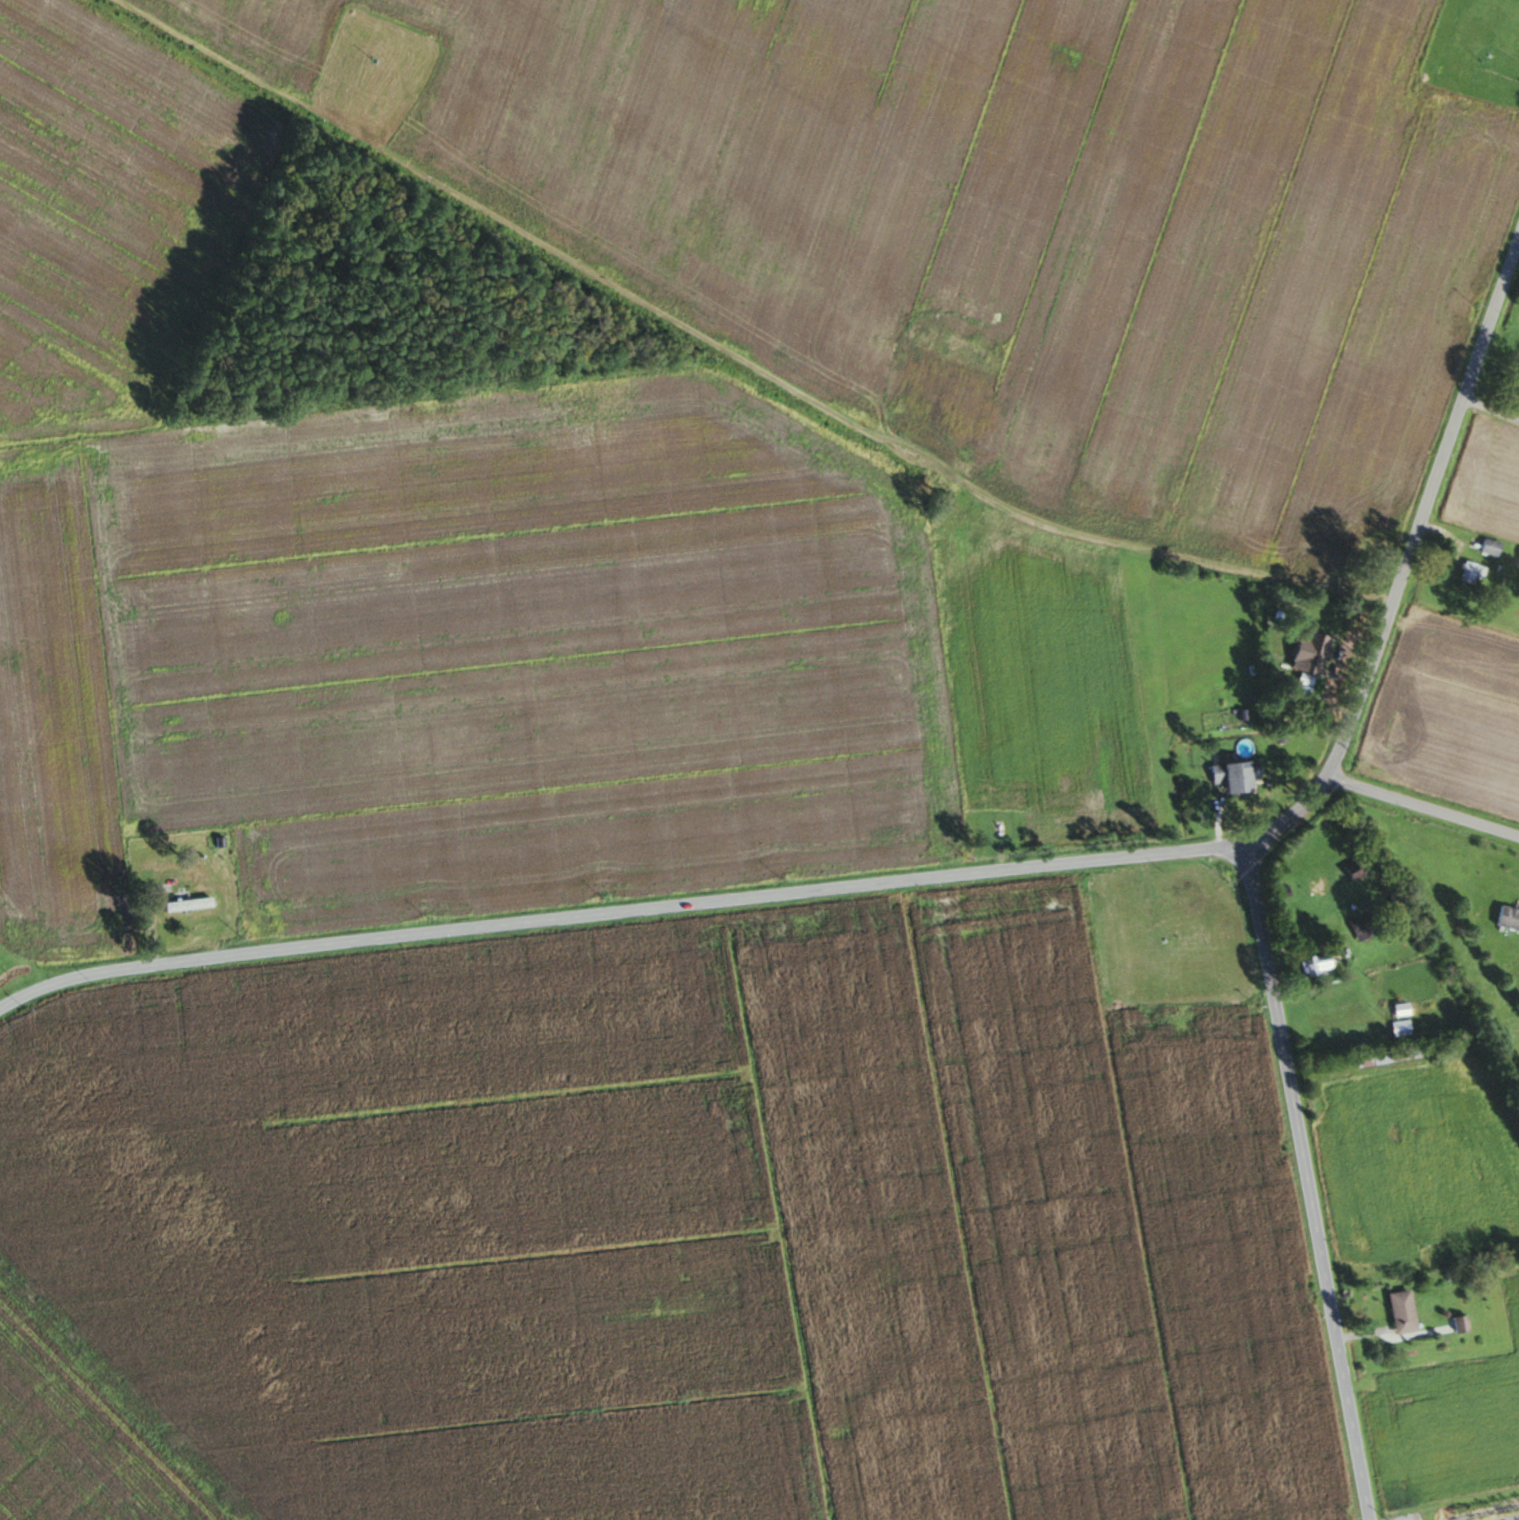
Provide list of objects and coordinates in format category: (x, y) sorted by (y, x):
building: (1517, 394)
building: (1486, 547)
building: (1517, 560)
road: (1220, 570)
building: (1467, 573)
building: (1309, 655)
building: (1291, 692)
building: (1228, 775)
road: (1424, 809)
road: (952, 879)
building: (189, 905)
building: (1505, 918)
building: (1361, 924)
building: (1313, 964)
building: (1396, 1010)
building: (1396, 1028)
road: (1306, 1183)
building: (1397, 1312)
building: (1457, 1324)
road: (1389, 1335)

